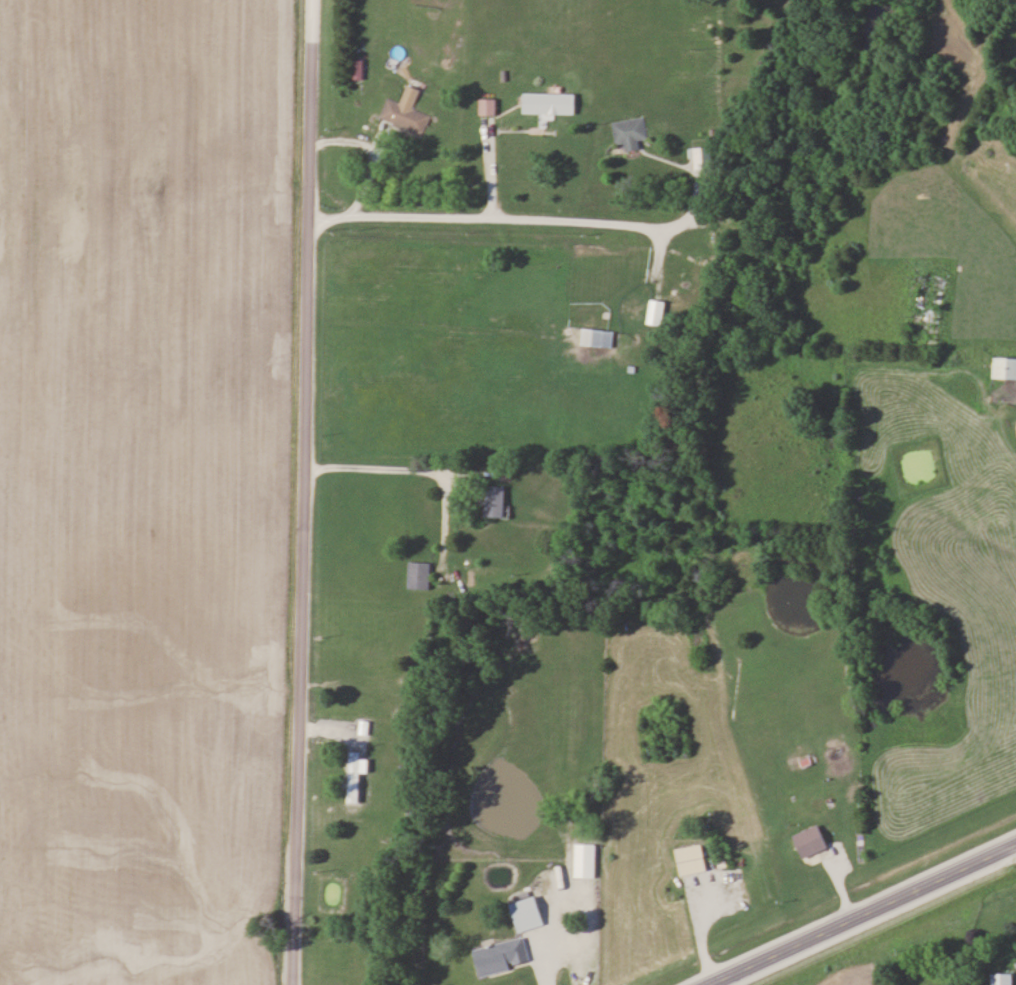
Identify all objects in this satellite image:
building: (550, 103)
building: (488, 106)
building: (406, 111)
building: (631, 132)
road: (484, 168)
road: (509, 219)
building: (936, 291)
building: (656, 311)
building: (598, 336)
building: (1005, 367)
road: (1013, 425)
road: (388, 469)
road: (296, 492)
building: (496, 500)
building: (419, 574)
building: (812, 840)
road: (1015, 845)
building: (585, 859)
building: (693, 859)
building: (529, 913)
road: (863, 914)
road: (544, 931)
building: (502, 955)
building: (1003, 978)

